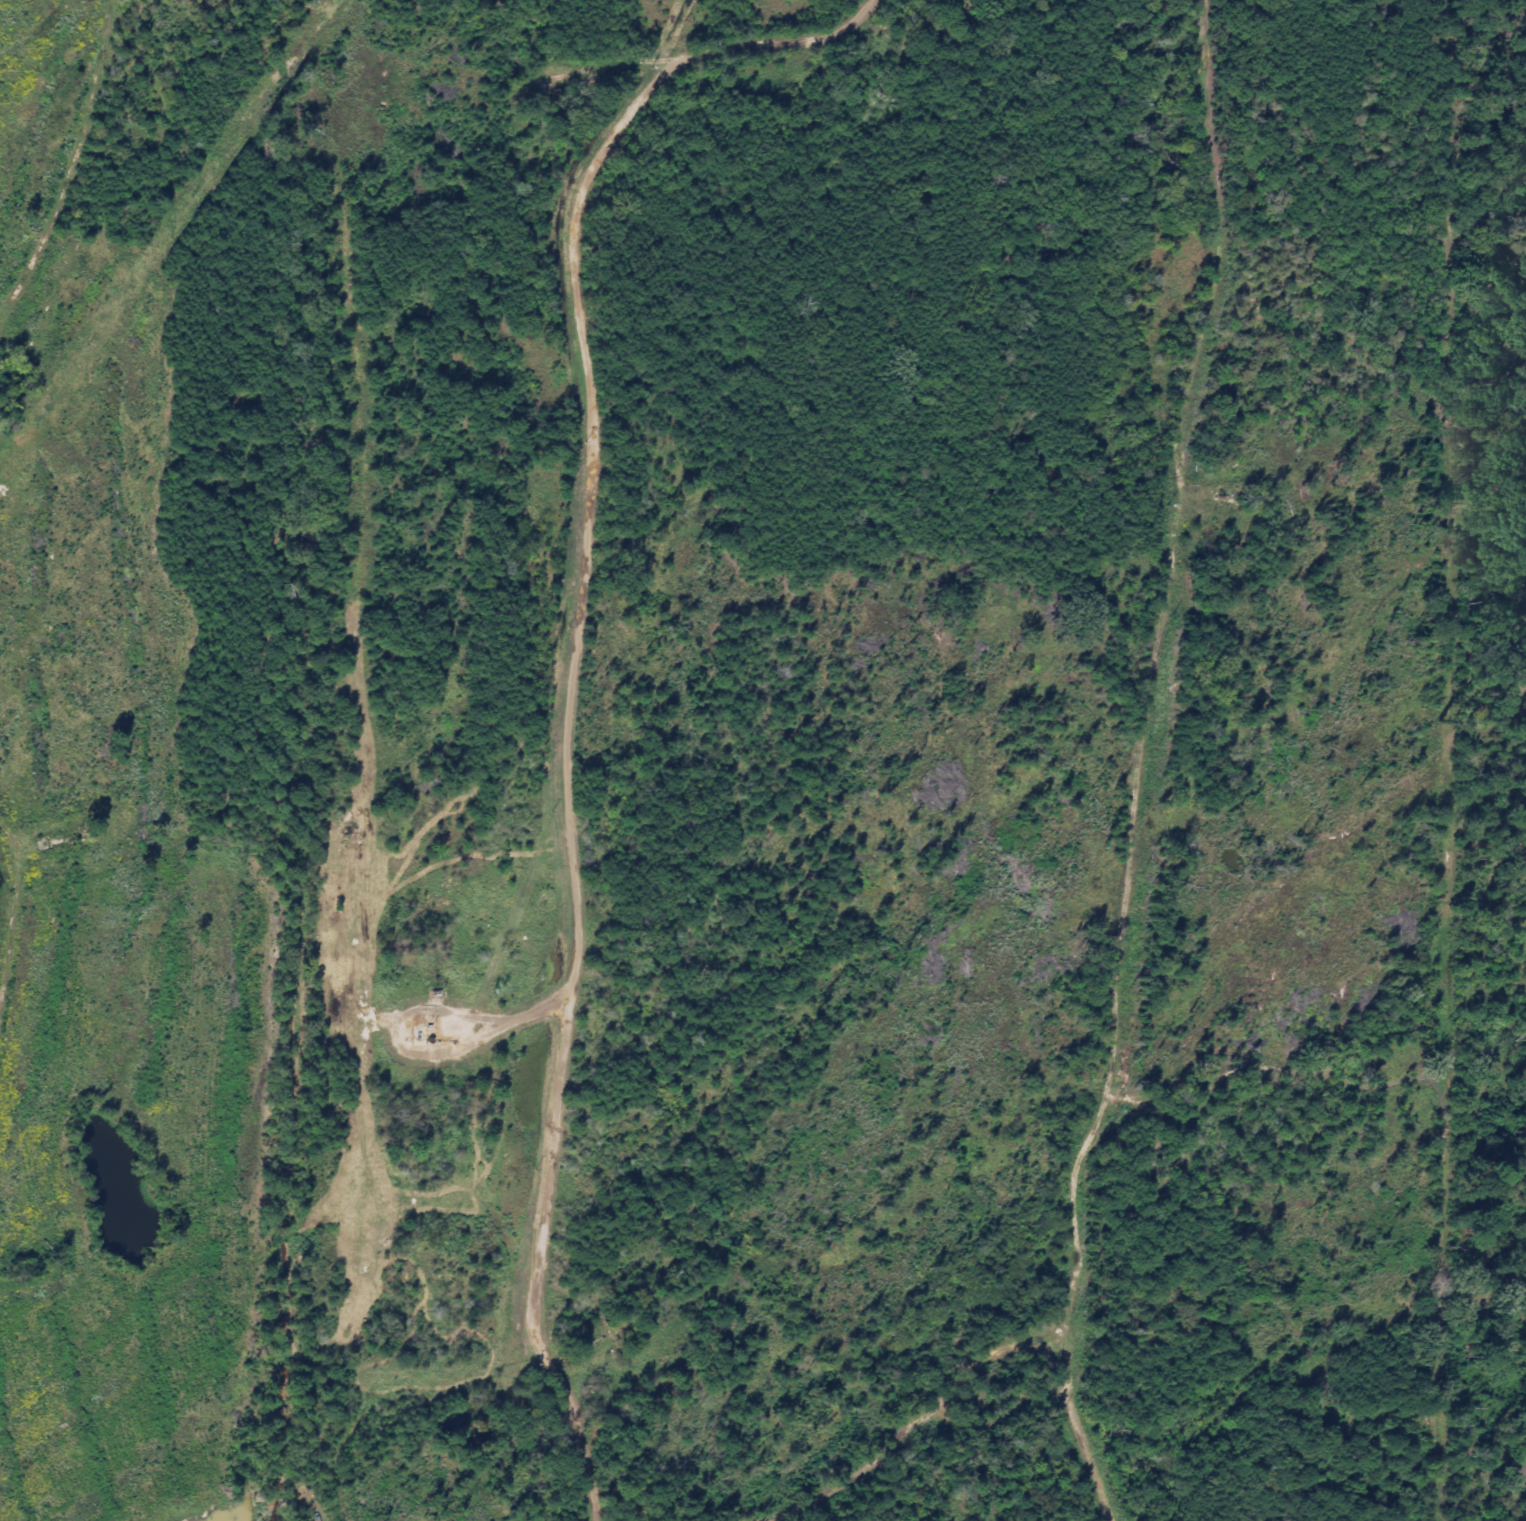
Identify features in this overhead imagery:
road: (575, 674)

